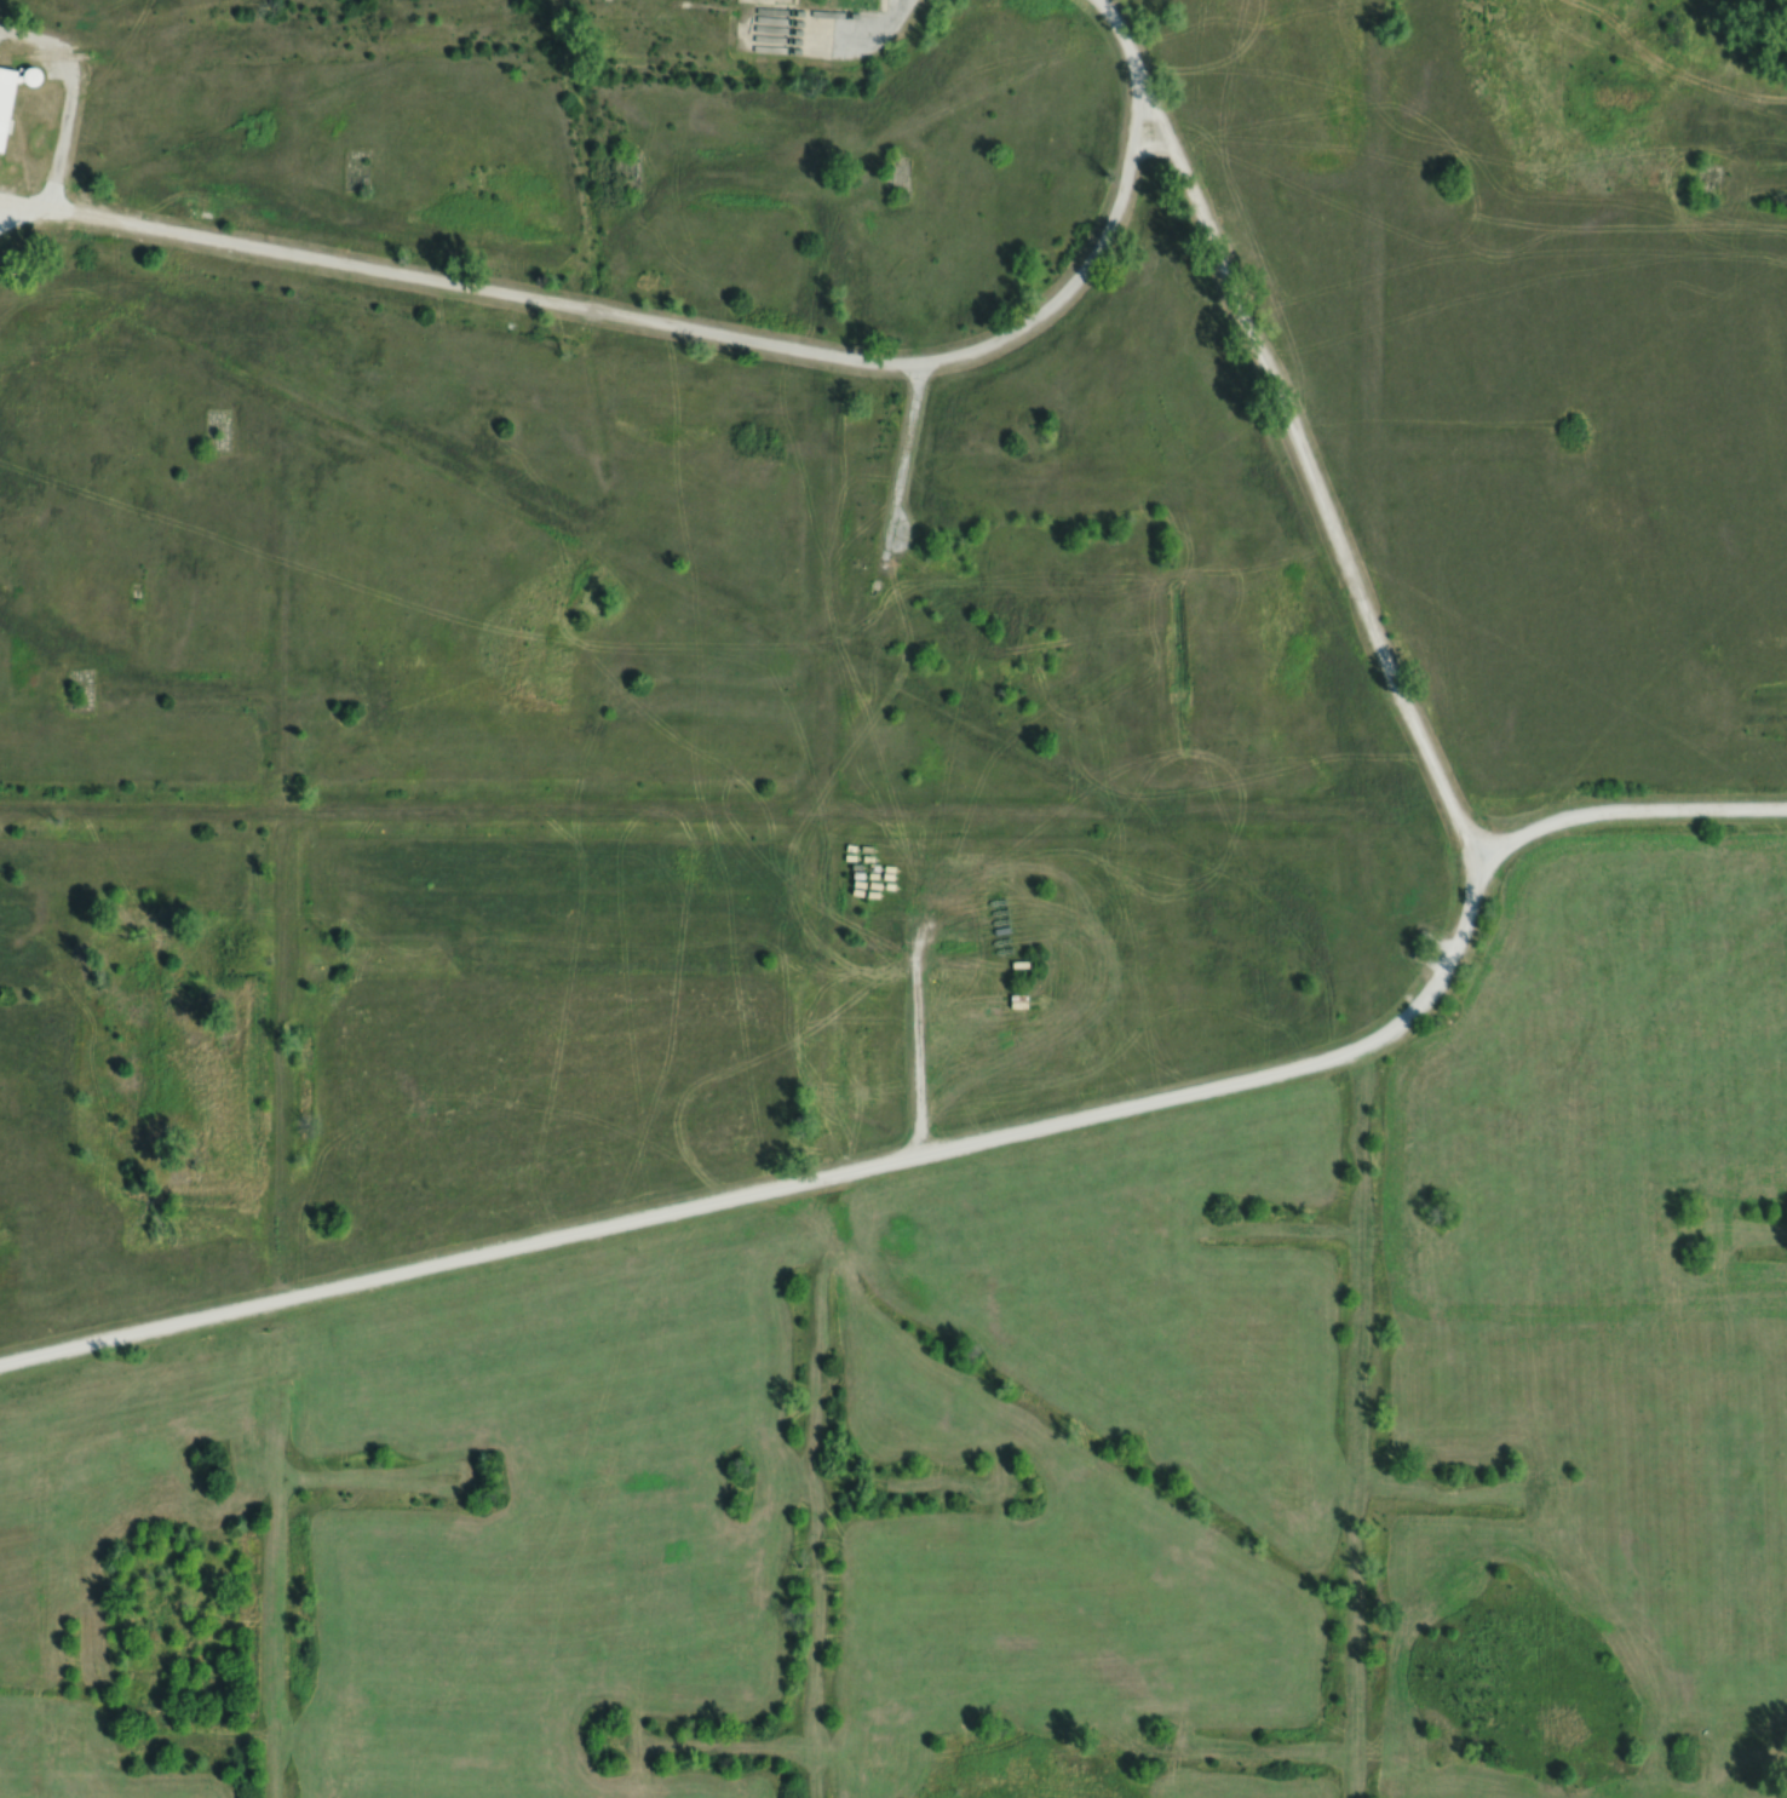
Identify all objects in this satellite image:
building: (870, 1)
road: (837, 31)
building: (8, 100)
road: (68, 102)
road: (705, 335)
building: (1266, 364)
road: (901, 469)
road: (1622, 812)
road: (1196, 1095)

